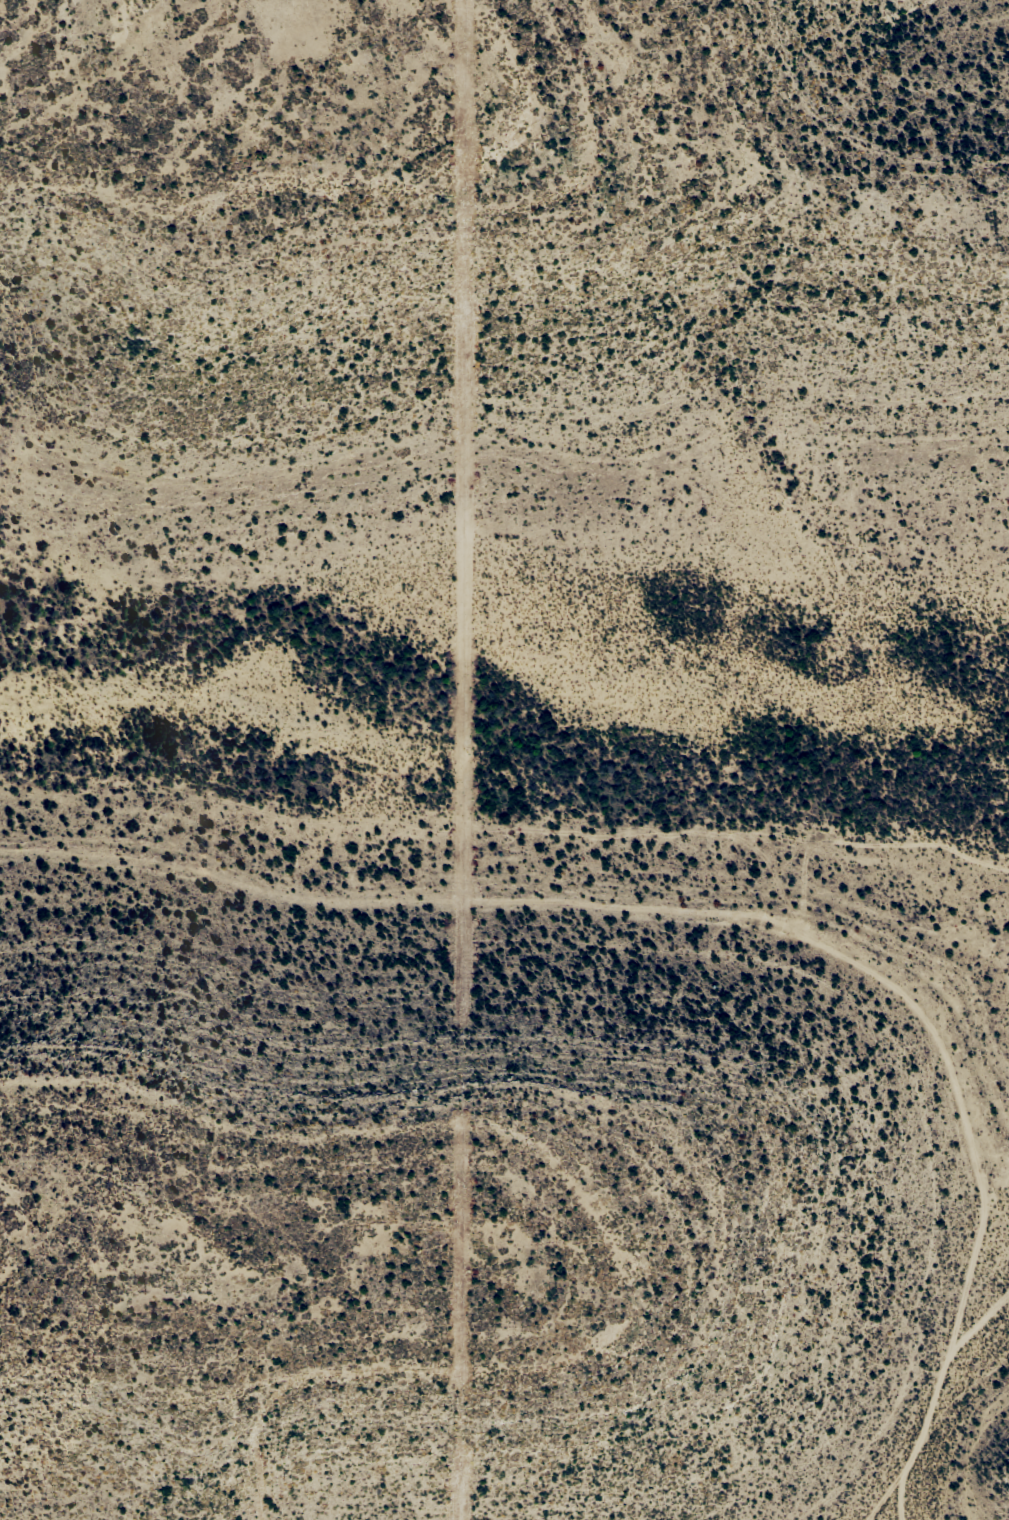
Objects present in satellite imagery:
road: (915, 1331)

